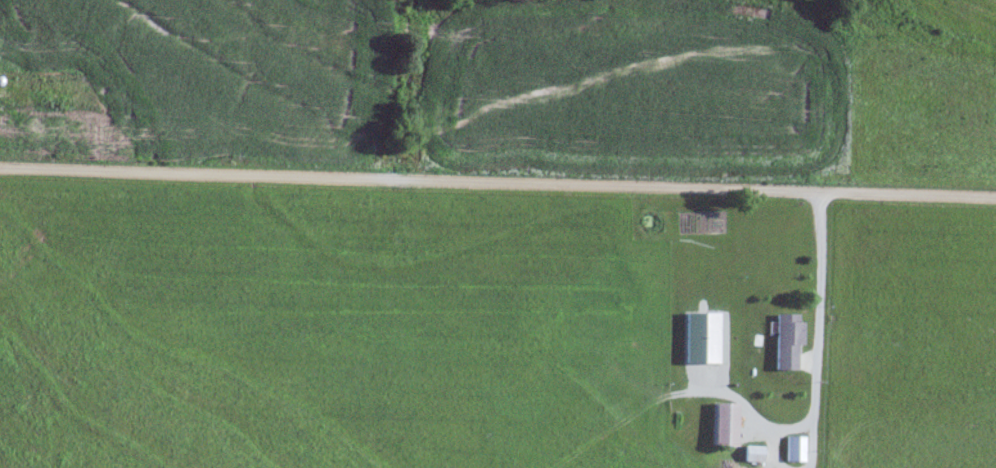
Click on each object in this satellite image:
road: (498, 185)
road: (816, 308)
building: (786, 343)
building: (724, 425)
road: (777, 436)
road: (811, 445)
building: (794, 450)
building: (753, 455)

